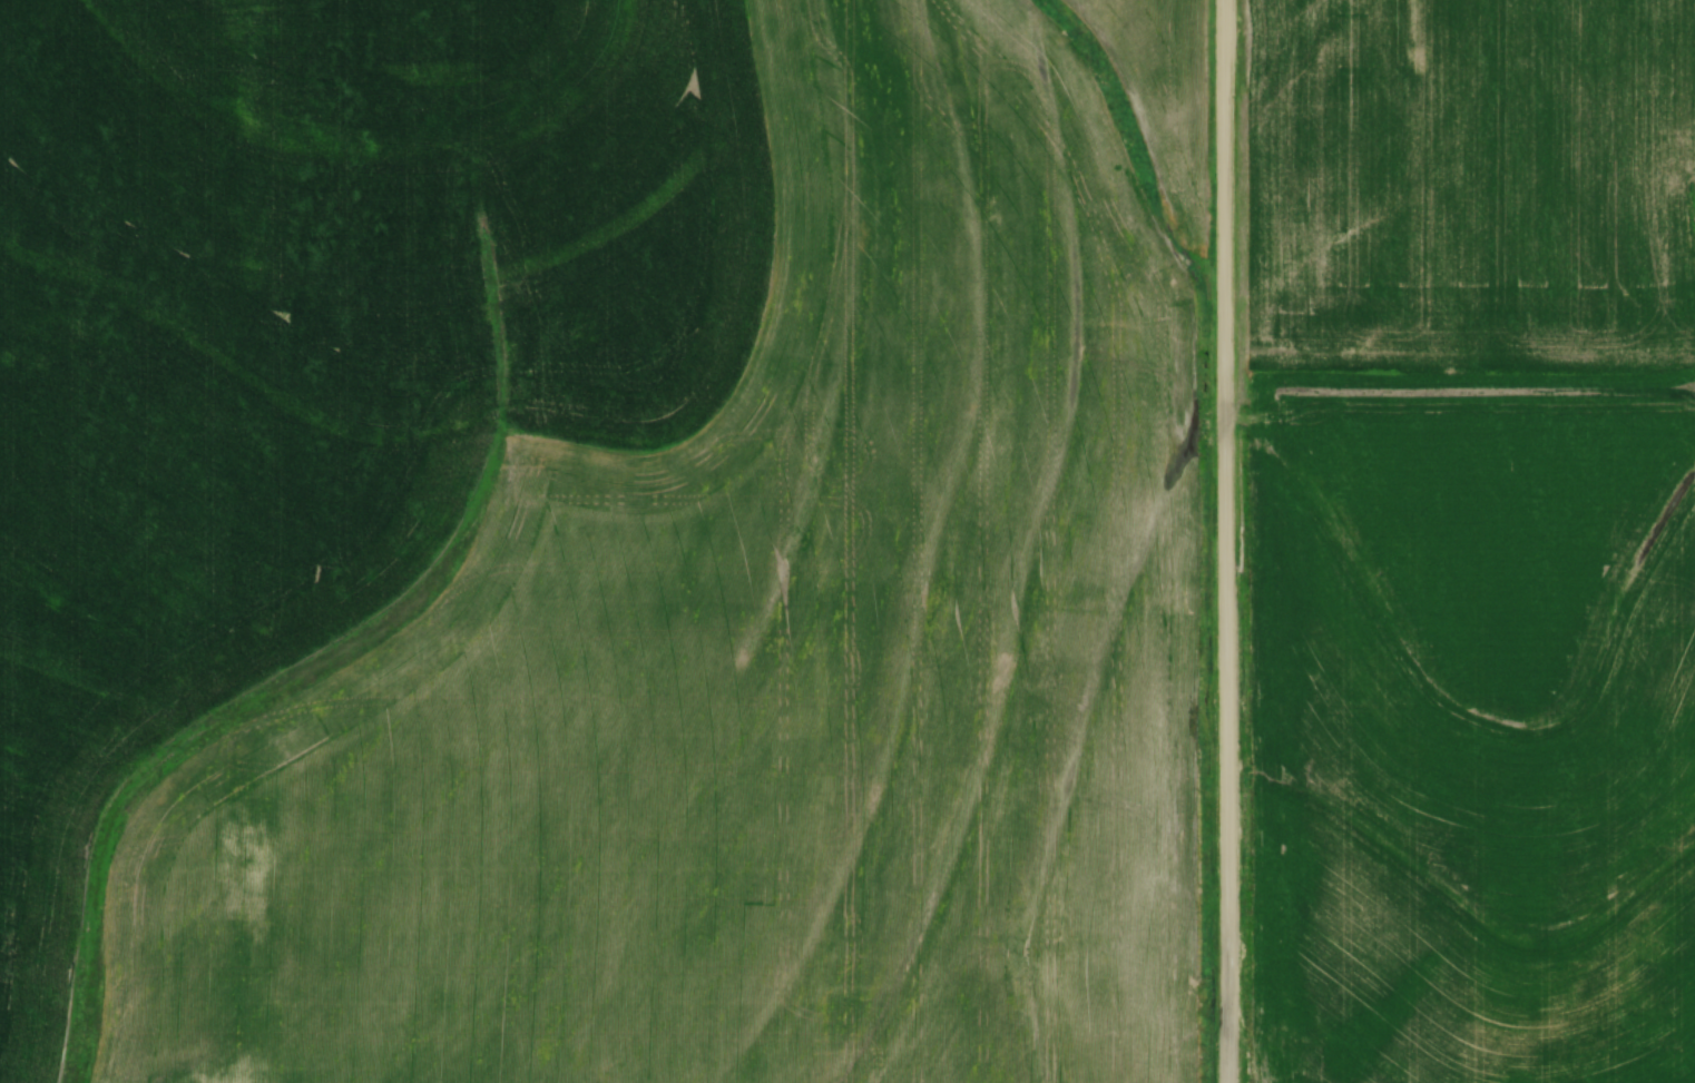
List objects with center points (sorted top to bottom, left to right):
road: (1231, 541)

